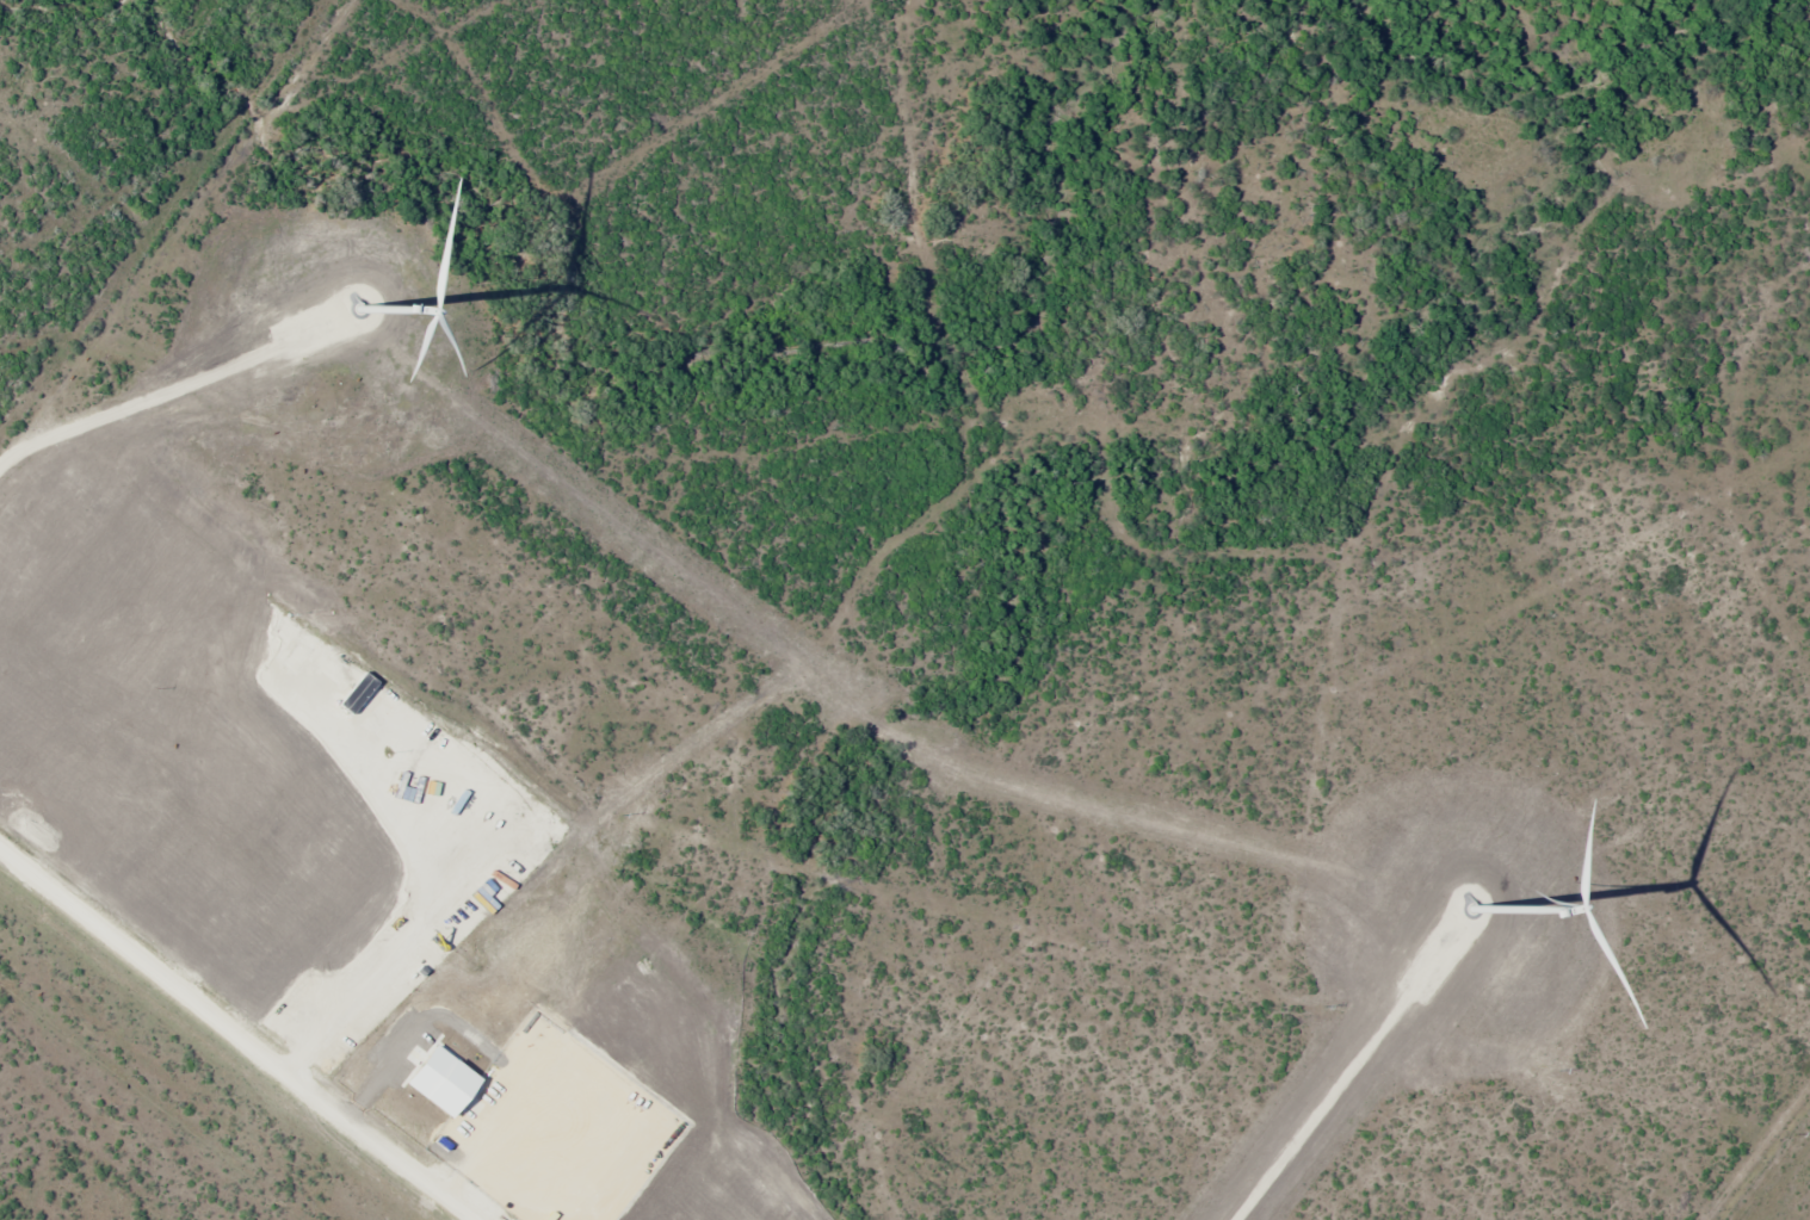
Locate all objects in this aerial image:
wind turbine: (354, 312)
wind turbine: (1468, 896)
road: (239, 1033)

